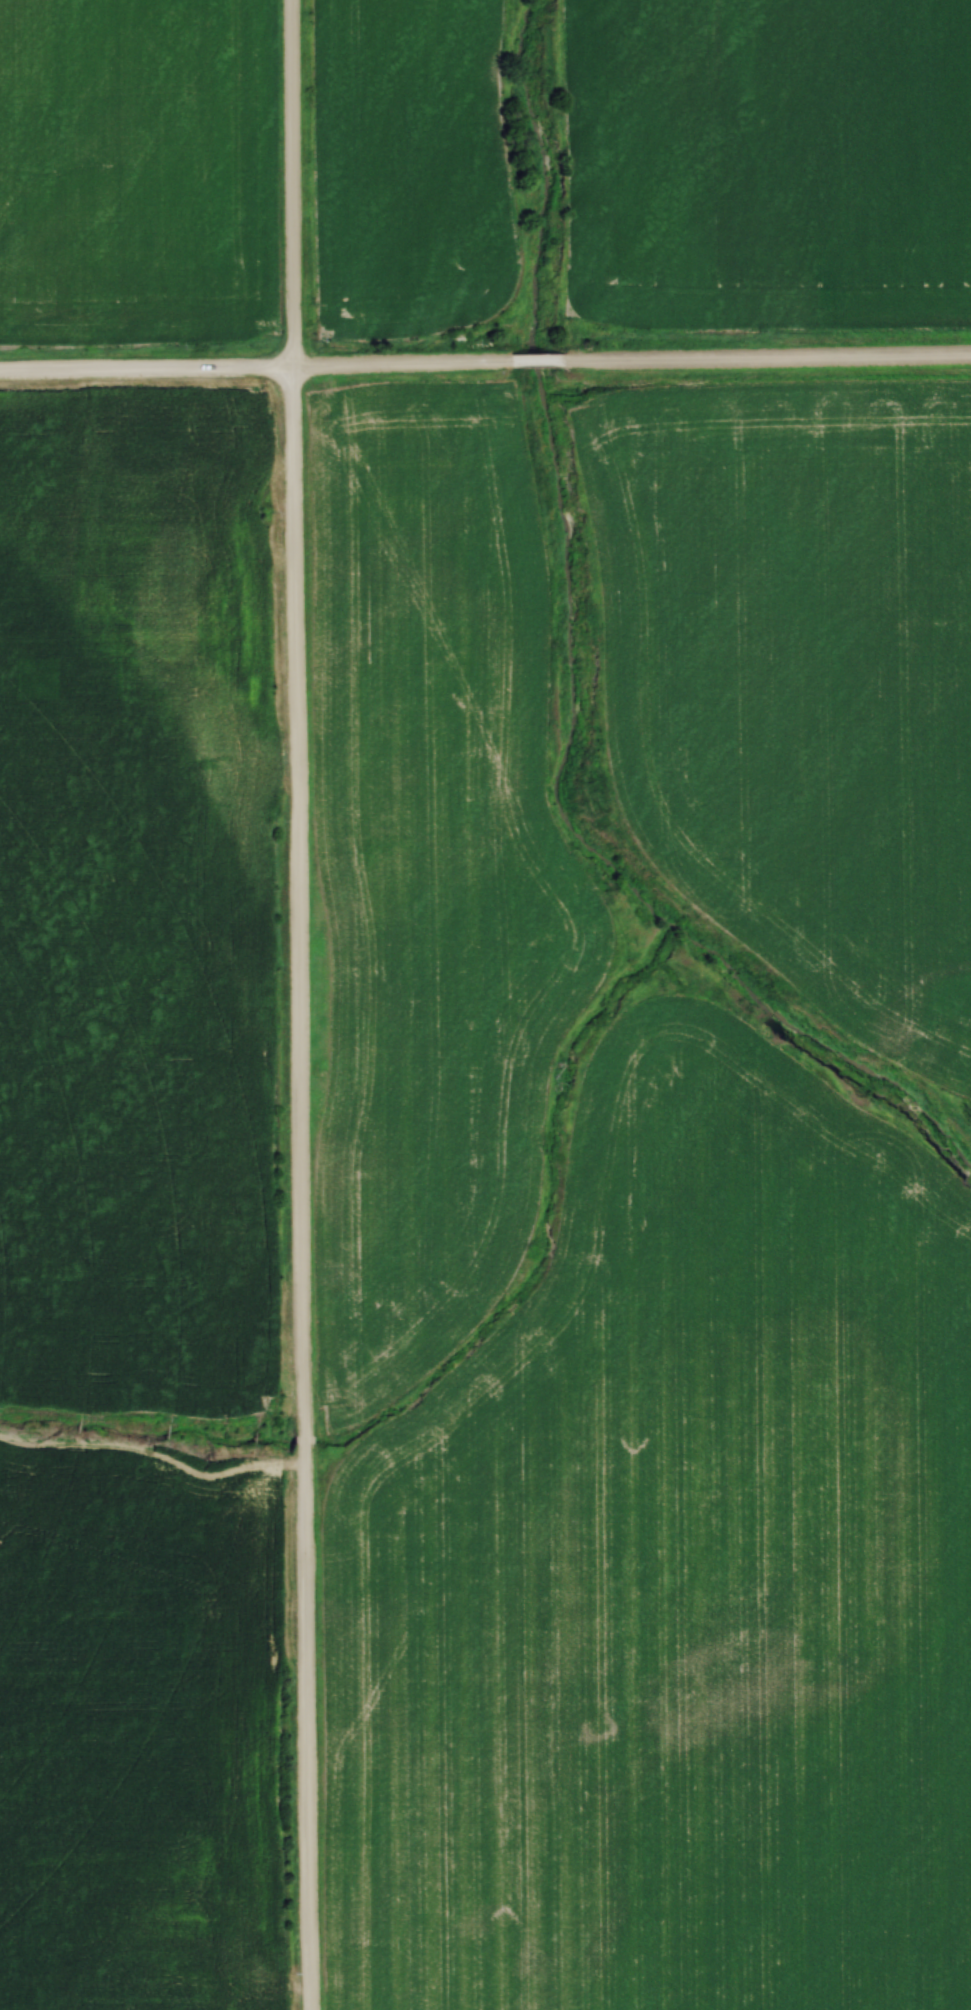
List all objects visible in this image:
road: (532, 358)
road: (765, 362)
road: (397, 363)
road: (145, 372)
river: (568, 672)
road: (297, 1005)

